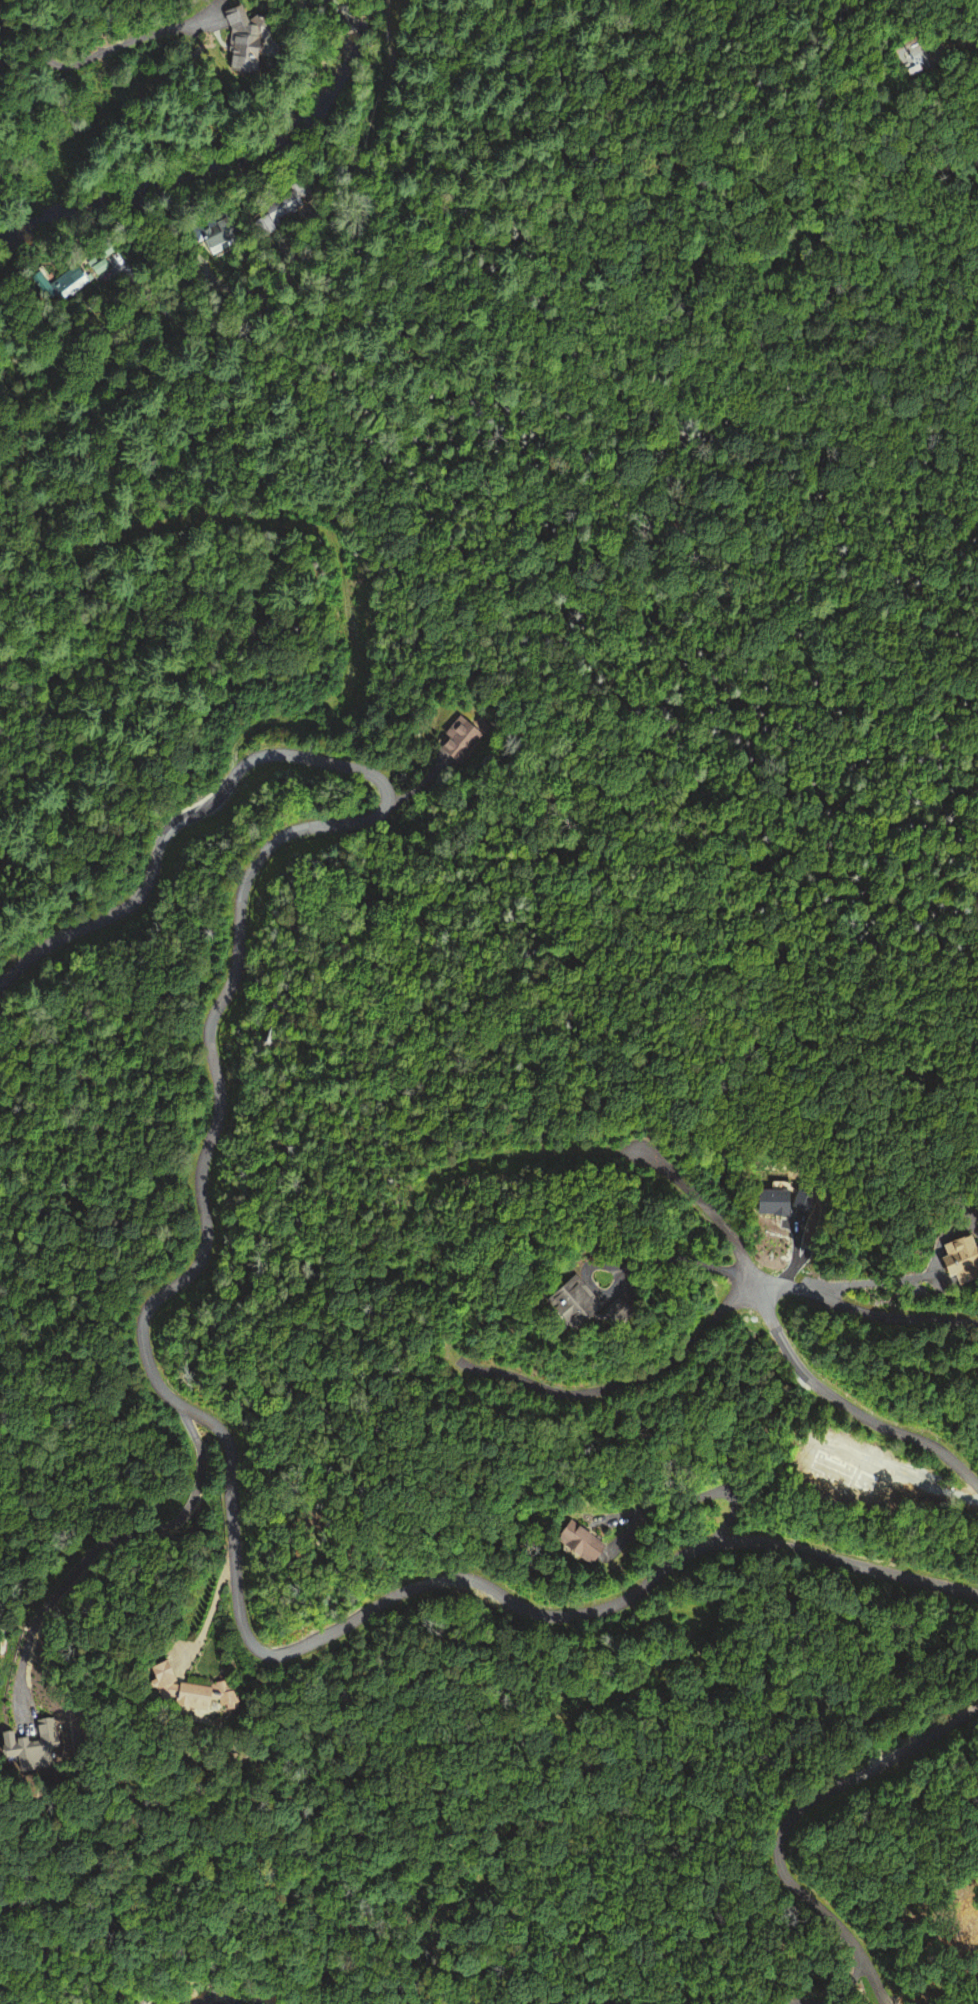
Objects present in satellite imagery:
building: (241, 42)
building: (905, 61)
building: (279, 205)
road: (346, 228)
building: (213, 235)
building: (60, 284)
building: (457, 739)
road: (733, 1240)
building: (960, 1260)
building: (569, 1301)
road: (863, 1311)
road: (143, 1313)
road: (110, 1538)
building: (575, 1542)
building: (180, 1692)
building: (29, 1747)
road: (792, 1821)

